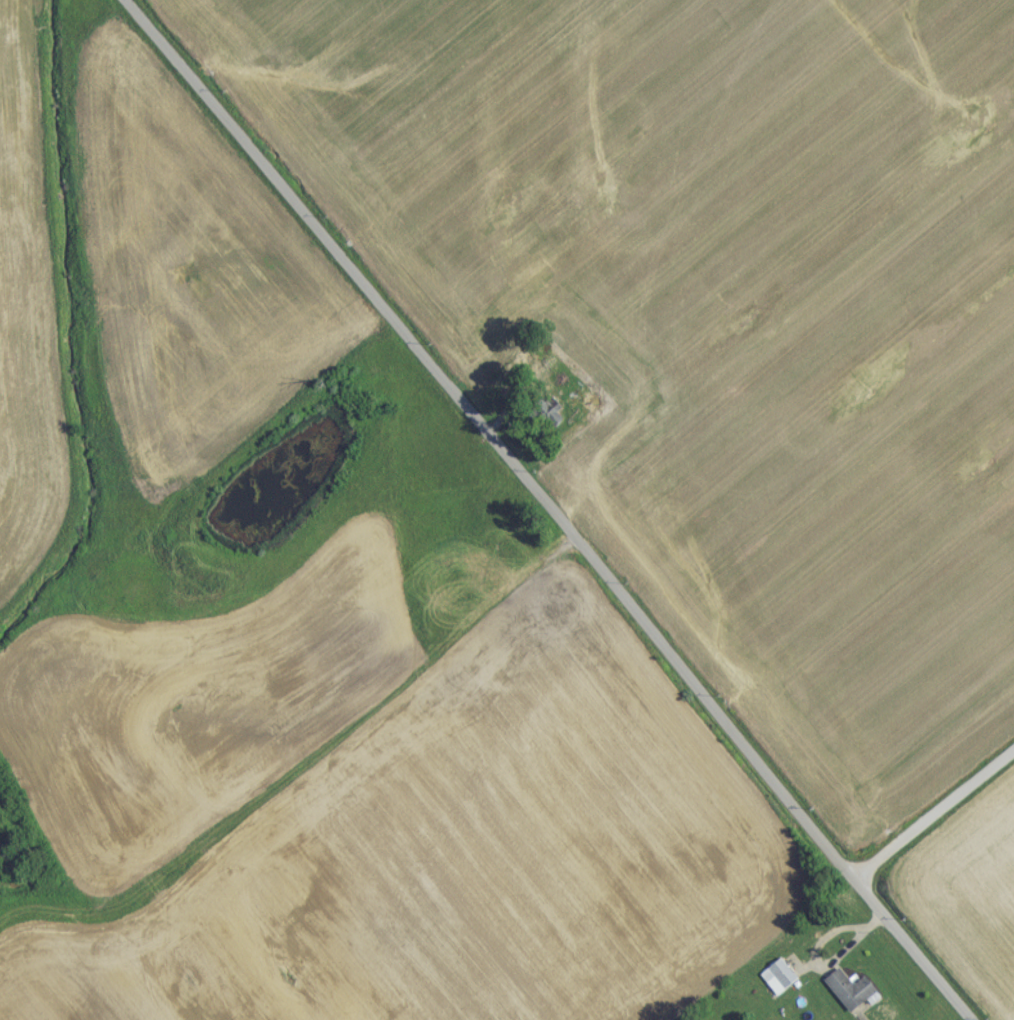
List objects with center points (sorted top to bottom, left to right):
road: (551, 508)
road: (933, 802)
building: (775, 983)
building: (846, 997)

